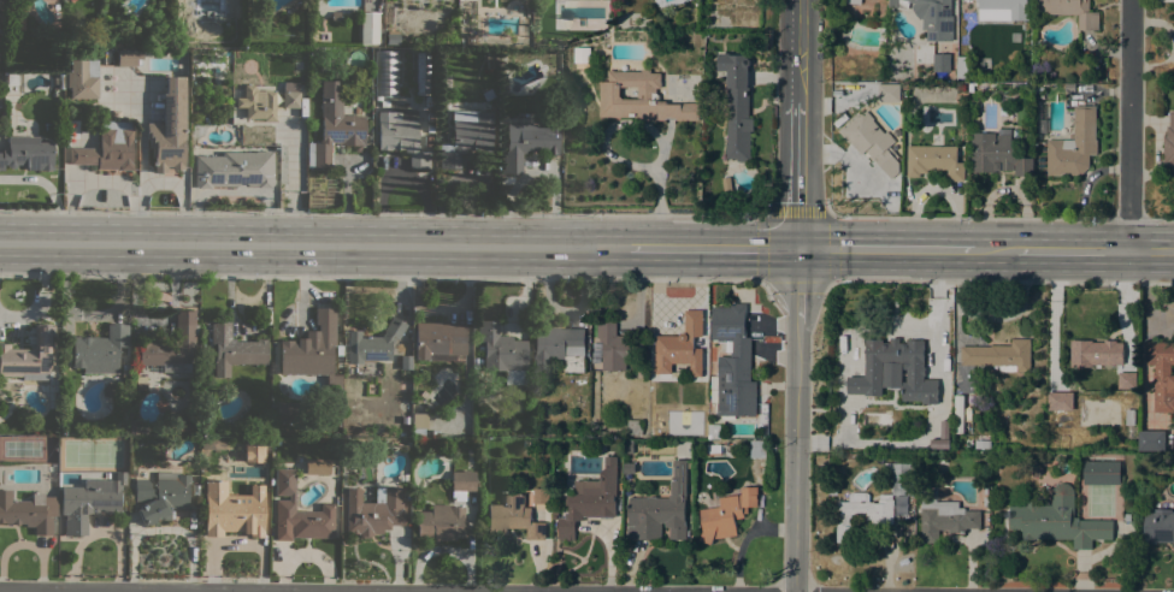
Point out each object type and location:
building: (67, 1)
building: (851, 1)
building: (1005, 7)
building: (1070, 11)
building: (335, 16)
building: (212, 17)
building: (16, 18)
building: (934, 18)
building: (368, 28)
building: (323, 36)
building: (391, 37)
building: (470, 40)
road: (800, 51)
building: (124, 58)
building: (491, 59)
building: (942, 63)
building: (962, 66)
building: (423, 72)
building: (387, 73)
building: (83, 78)
building: (60, 81)
building: (889, 93)
building: (488, 94)
building: (293, 95)
building: (641, 97)
building: (429, 100)
building: (256, 102)
building: (384, 102)
building: (737, 105)
building: (429, 117)
building: (335, 125)
road: (1129, 125)
building: (169, 128)
building: (430, 129)
building: (400, 136)
building: (466, 136)
building: (427, 141)
building: (872, 142)
building: (1169, 143)
building: (526, 144)
building: (1074, 146)
building: (108, 148)
building: (26, 153)
building: (998, 153)
building: (934, 160)
building: (235, 168)
road: (800, 174)
building: (708, 201)
road: (1151, 220)
road: (313, 244)
road: (712, 247)
traffic signals: (798, 248)
road: (884, 249)
road: (992, 250)
road: (1070, 250)
road: (1151, 251)
road: (828, 284)
road: (798, 286)
building: (660, 327)
building: (761, 336)
building: (438, 338)
building: (372, 343)
building: (171, 345)
building: (311, 347)
building: (617, 347)
building: (679, 347)
building: (559, 348)
building: (99, 349)
building: (234, 349)
building: (502, 353)
building: (1096, 354)
building: (29, 355)
building: (999, 355)
building: (892, 356)
building: (405, 360)
building: (733, 362)
building: (944, 368)
building: (125, 369)
building: (1162, 373)
building: (110, 390)
building: (1125, 390)
building: (928, 391)
building: (979, 396)
building: (867, 399)
building: (288, 412)
building: (958, 414)
building: (1129, 416)
building: (418, 422)
building: (937, 424)
building: (136, 427)
building: (633, 427)
building: (165, 428)
building: (185, 428)
building: (712, 431)
building: (275, 440)
building: (1151, 440)
building: (971, 442)
building: (957, 443)
building: (211, 444)
building: (984, 444)
building: (629, 446)
building: (904, 448)
building: (253, 449)
building: (718, 449)
building: (757, 449)
building: (272, 454)
building: (907, 456)
road: (796, 457)
building: (844, 458)
building: (317, 466)
building: (629, 468)
building: (832, 468)
building: (842, 469)
building: (1101, 472)
building: (898, 476)
building: (461, 483)
building: (541, 495)
building: (160, 496)
building: (589, 499)
building: (89, 501)
building: (232, 509)
building: (29, 510)
building: (373, 510)
building: (660, 510)
building: (297, 511)
building: (861, 513)
building: (726, 515)
building: (943, 516)
building: (513, 517)
building: (1126, 517)
building: (1057, 520)
building: (441, 522)
building: (1158, 526)
building: (896, 533)

